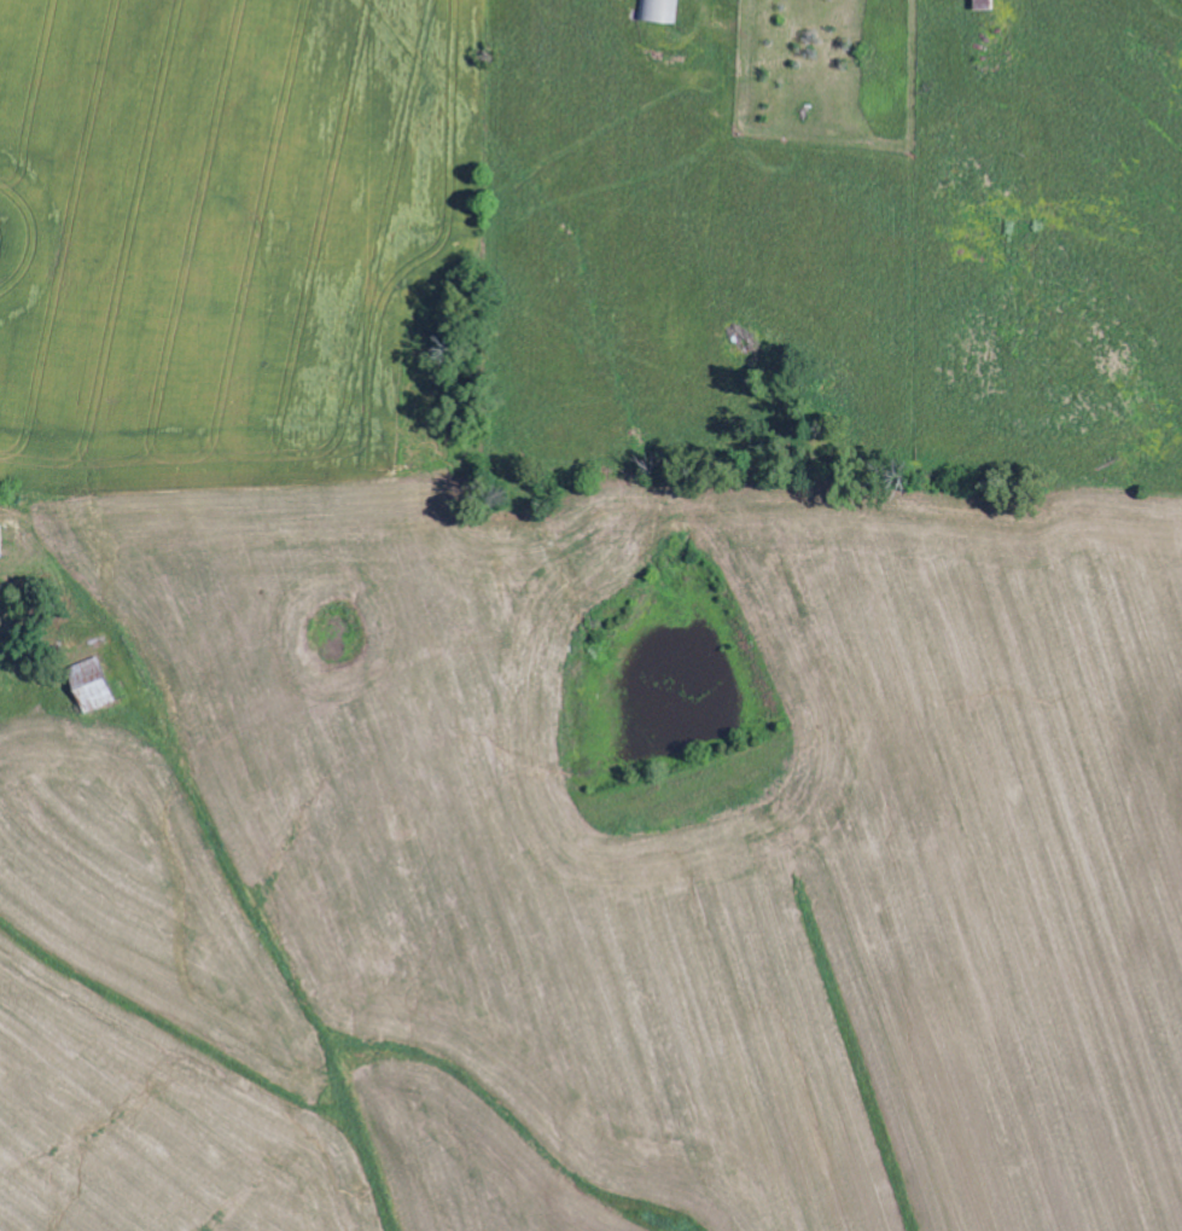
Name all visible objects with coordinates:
building: (1, 545)
building: (92, 686)

